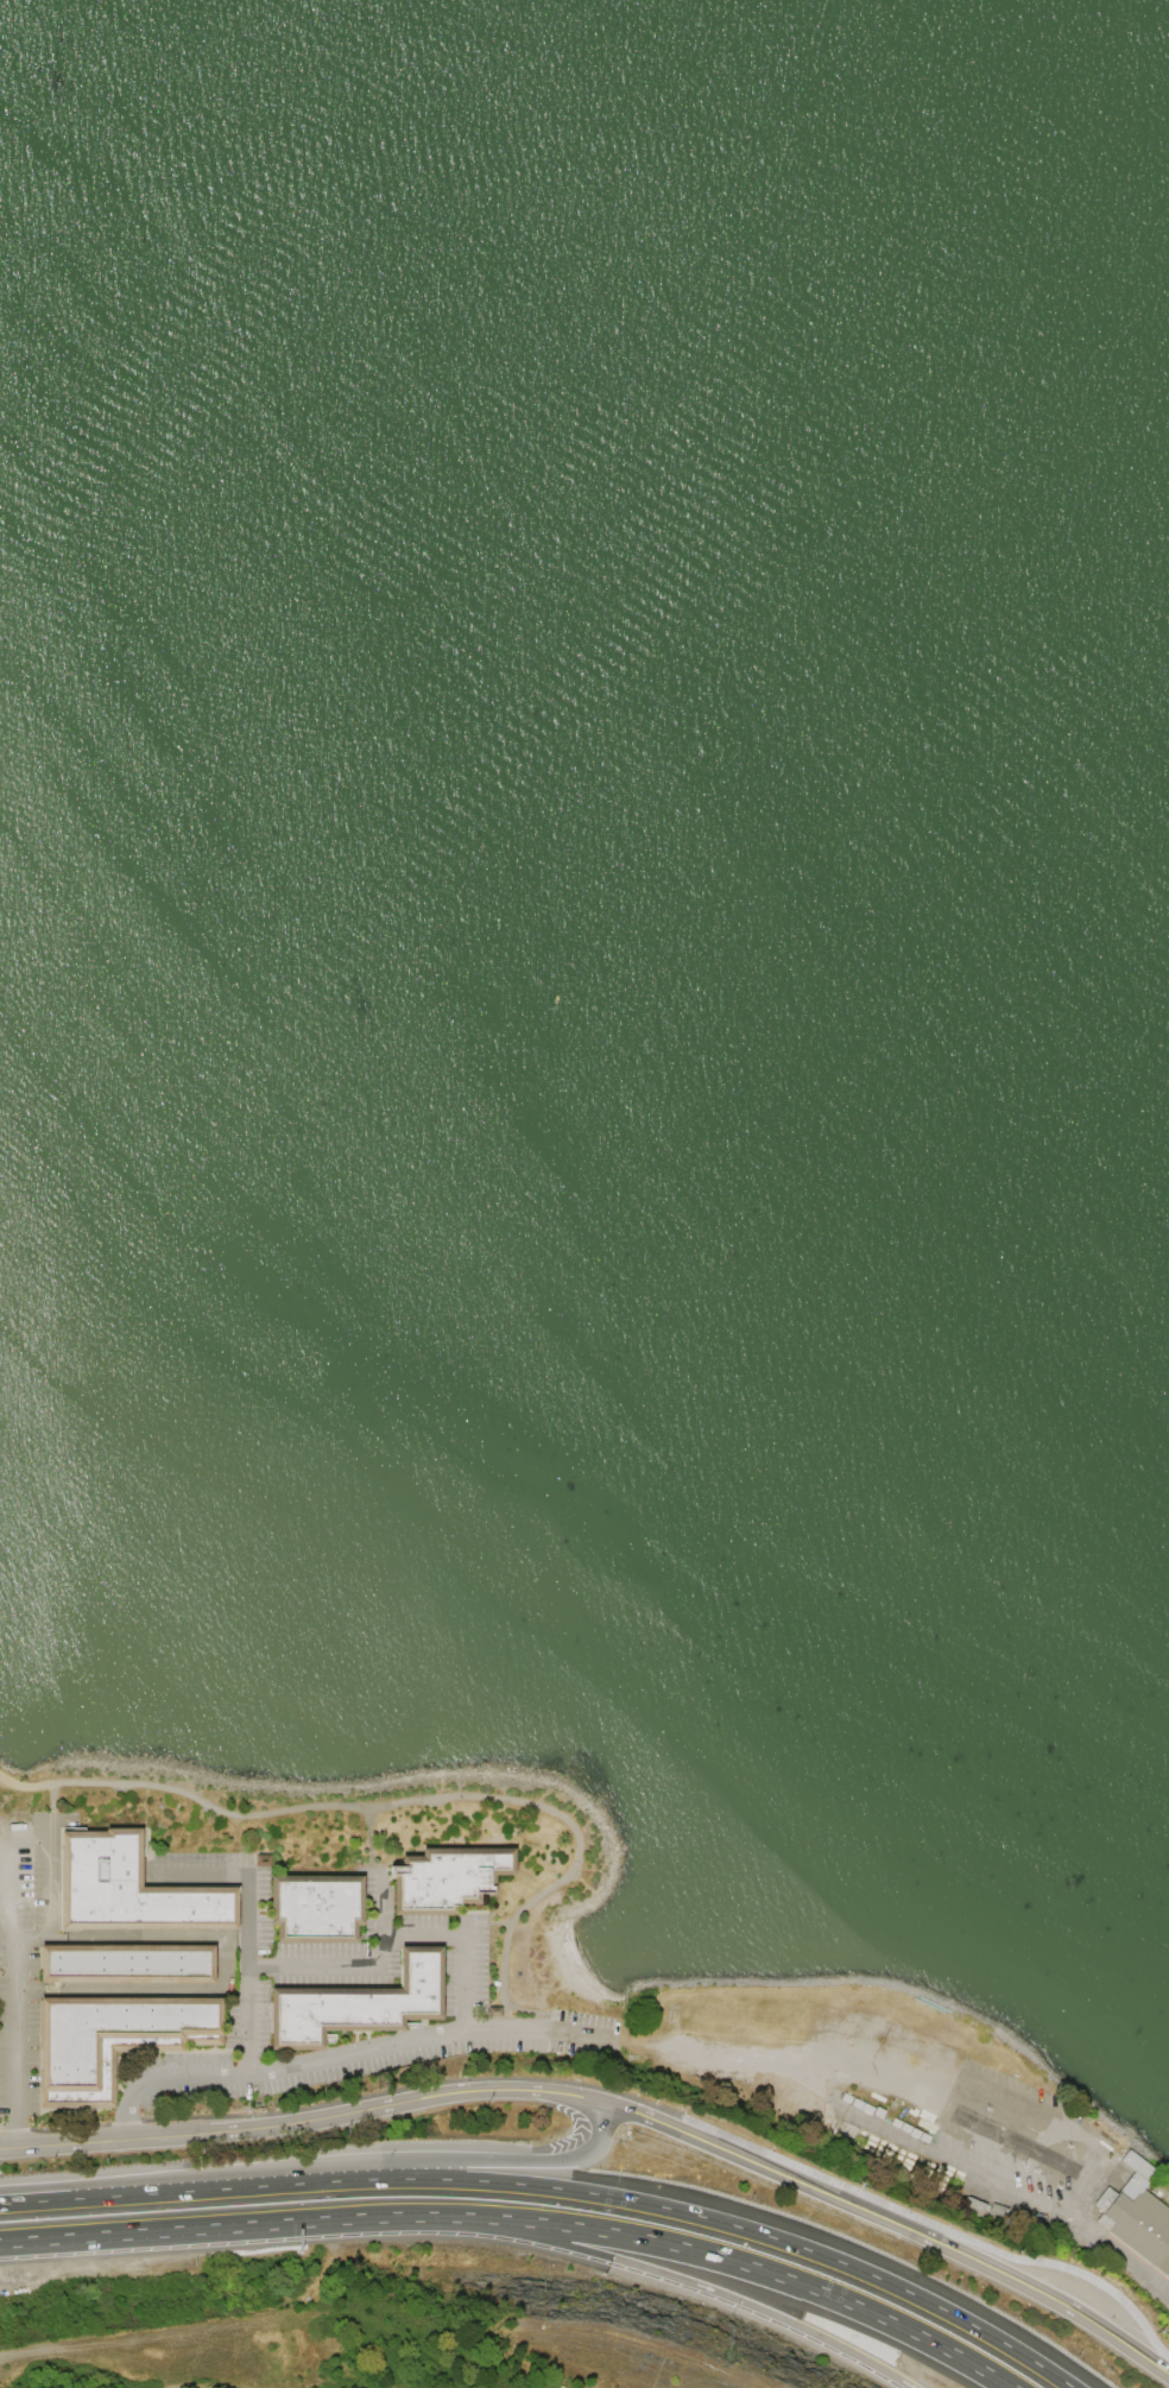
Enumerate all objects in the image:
road: (51, 1796)
road: (381, 1800)
building: (261, 1859)
road: (239, 1871)
building: (446, 1877)
road: (4, 1878)
building: (128, 1888)
road: (380, 1902)
building: (315, 1908)
road: (7, 1912)
road: (137, 1933)
road: (362, 1960)
road: (13, 1964)
building: (125, 1964)
building: (356, 2003)
building: (493, 2011)
building: (110, 2040)
road: (343, 2048)
road: (614, 2098)
road: (1034, 2102)
road: (1022, 2142)
road: (453, 2159)
building: (1136, 2165)
road: (131, 2193)
road: (1086, 2197)
road: (1, 2203)
road: (1, 2204)
road: (1054, 2206)
road: (684, 2212)
building: (1139, 2224)
road: (229, 2226)
road: (935, 2226)
road: (746, 2264)
road: (694, 2283)

